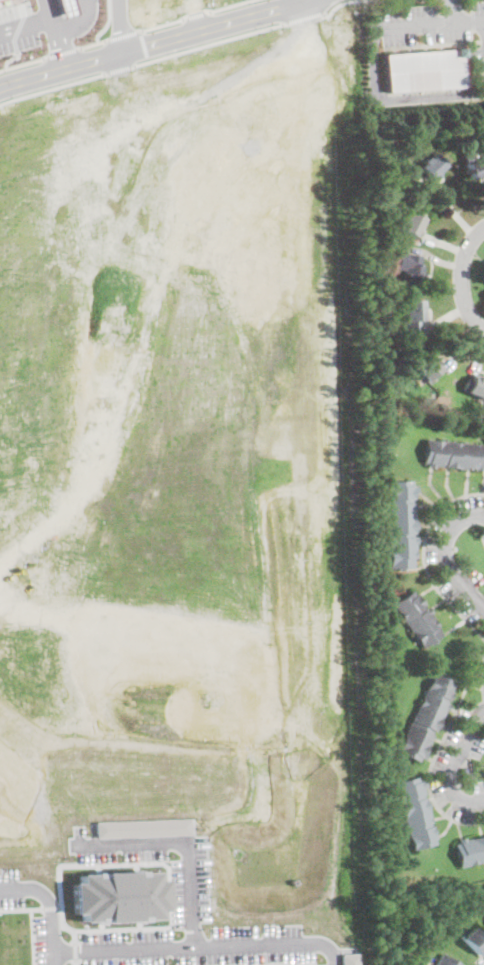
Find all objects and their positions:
road: (336, 4)
road: (228, 5)
building: (67, 7)
road: (51, 9)
road: (452, 10)
road: (198, 14)
road: (199, 14)
road: (52, 18)
road: (304, 18)
road: (109, 22)
road: (426, 22)
road: (78, 23)
road: (164, 23)
road: (122, 25)
road: (19, 26)
road: (125, 34)
road: (153, 42)
road: (94, 43)
road: (209, 43)
road: (145, 44)
road: (64, 52)
road: (11, 57)
road: (23, 63)
road: (121, 69)
building: (424, 71)
road: (52, 87)
road: (394, 99)
building: (396, 152)
building: (432, 166)
building: (474, 166)
building: (411, 223)
building: (410, 269)
road: (460, 279)
building: (412, 317)
building: (426, 366)
building: (474, 385)
road: (185, 438)
building: (454, 454)
building: (400, 523)
road: (445, 554)
road: (140, 570)
building: (418, 618)
road: (481, 676)
building: (427, 716)
road: (456, 764)
road: (429, 769)
building: (416, 812)
building: (142, 827)
road: (179, 841)
building: (470, 849)
building: (117, 896)
road: (49, 905)
road: (20, 908)
road: (29, 936)
building: (475, 940)
road: (199, 944)
building: (346, 958)
building: (445, 961)

